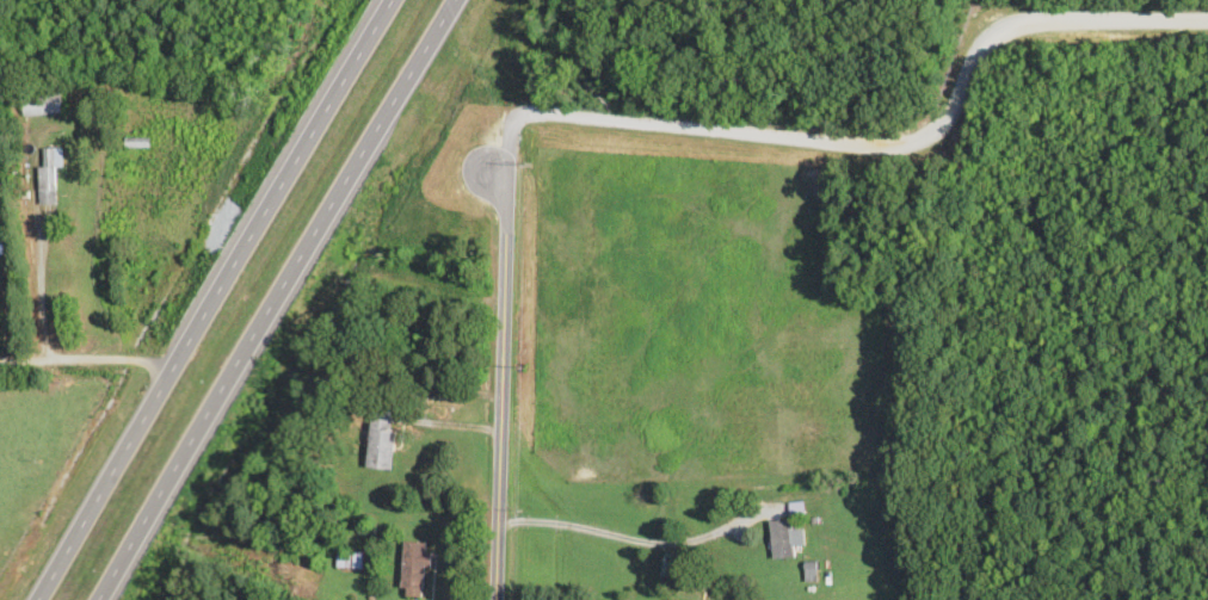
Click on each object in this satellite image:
building: (41, 104)
building: (434, 142)
road: (862, 149)
building: (49, 178)
road: (211, 298)
road: (275, 299)
road: (87, 354)
road: (505, 385)
building: (381, 441)
building: (785, 540)
building: (350, 561)
building: (414, 569)

